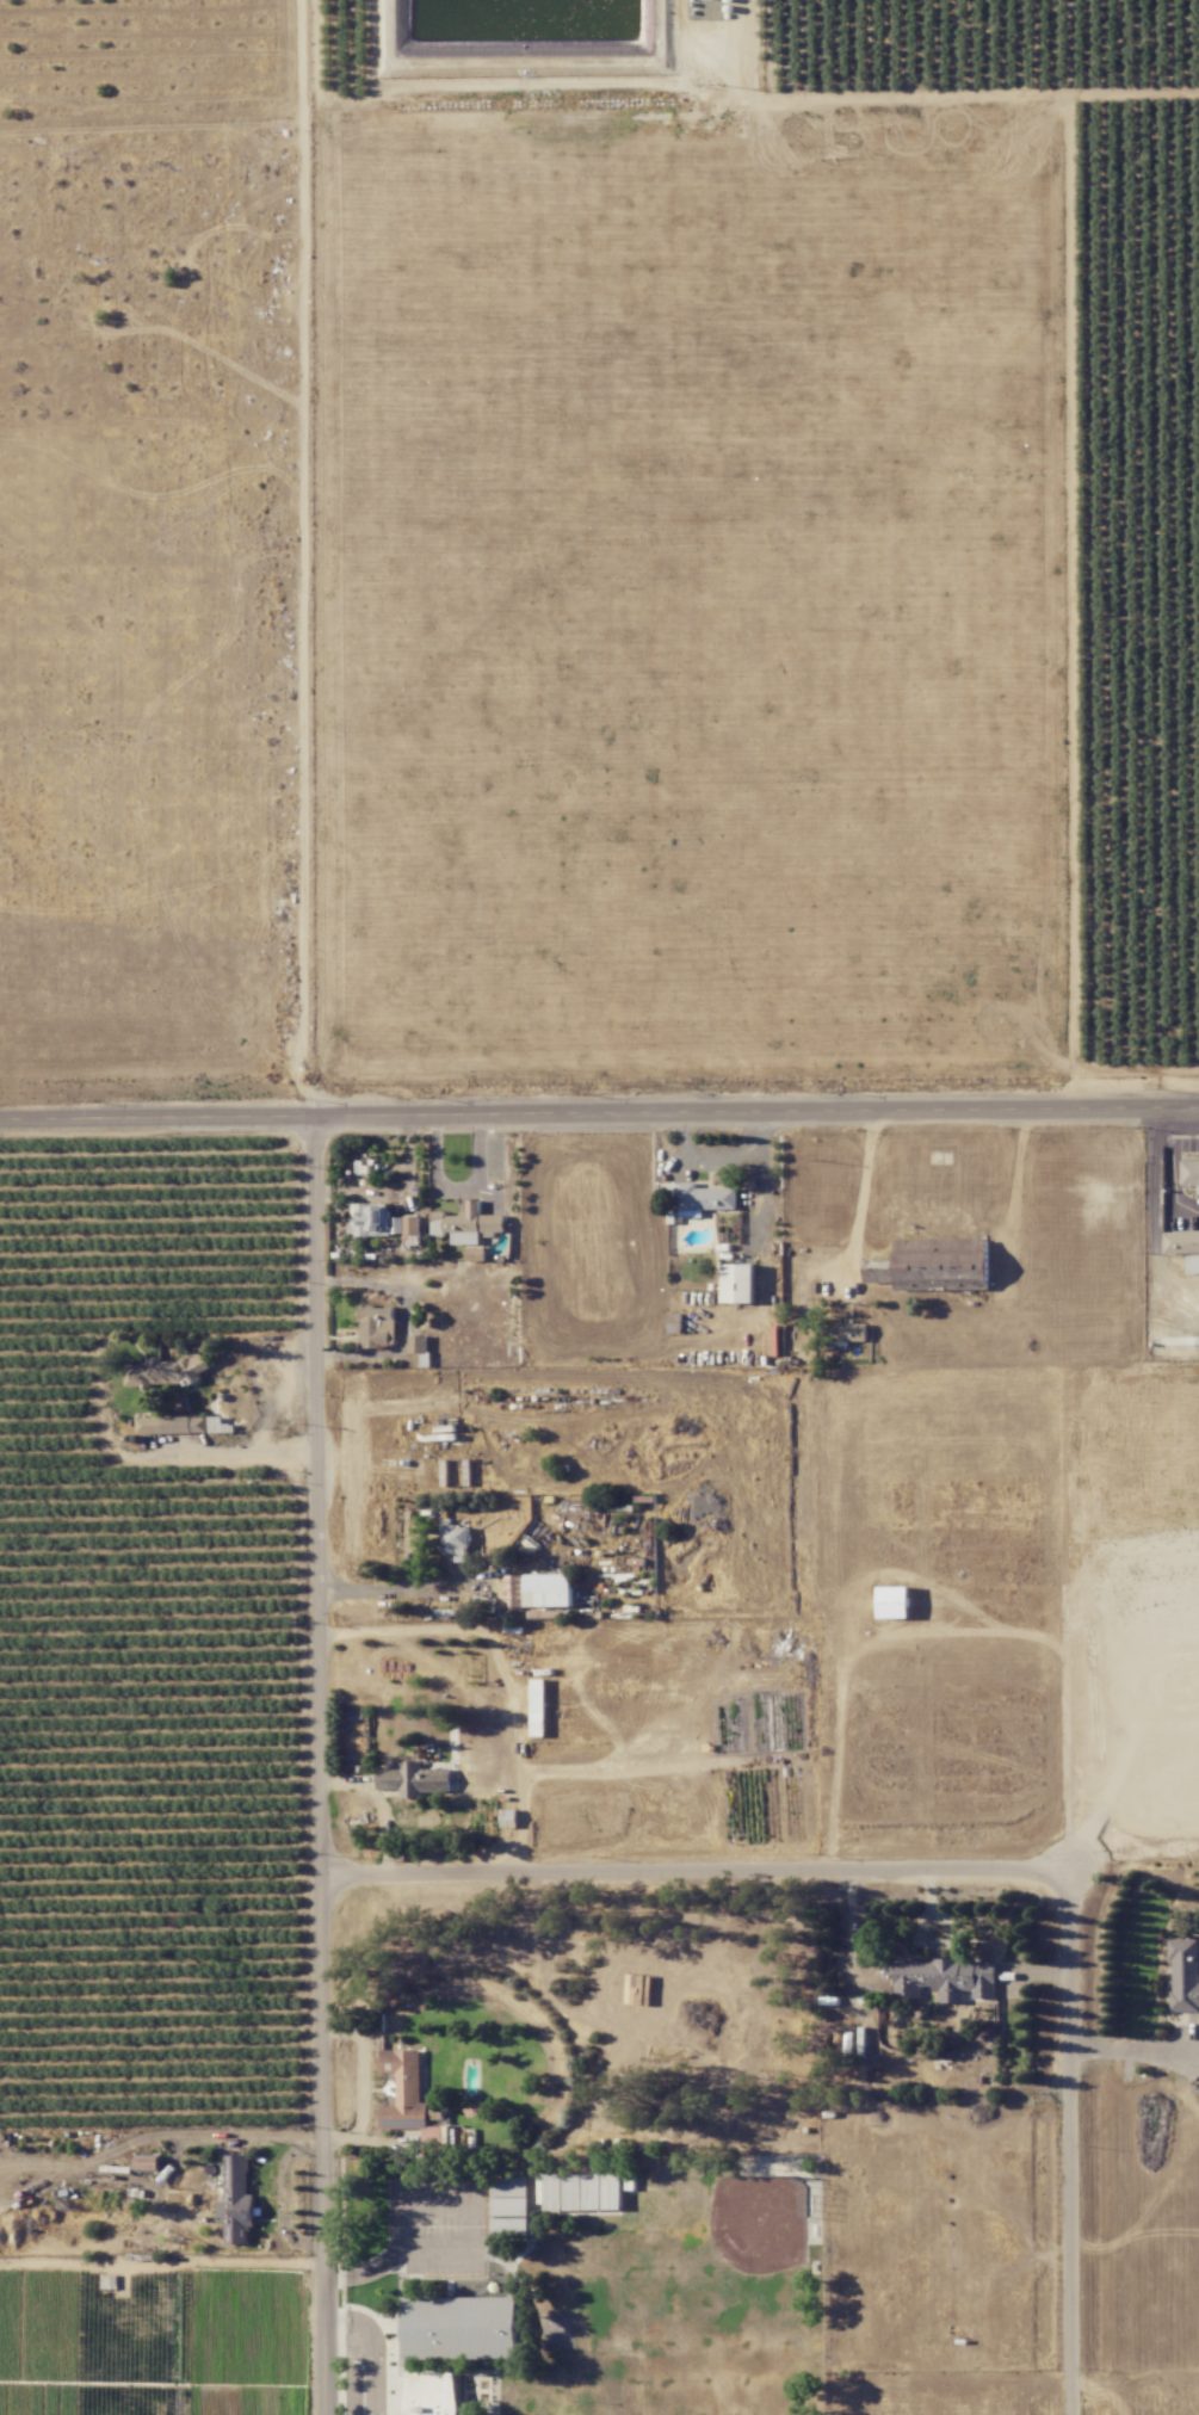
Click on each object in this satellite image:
road: (309, 558)
road: (1178, 1108)
road: (579, 1114)
road: (1157, 1143)
road: (723, 1156)
road: (1172, 1163)
road: (459, 1190)
road: (865, 1193)
building: (702, 1196)
building: (381, 1221)
building: (465, 1223)
building: (1181, 1242)
building: (933, 1265)
building: (738, 1283)
building: (377, 1326)
building: (848, 1330)
building: (418, 1344)
building: (165, 1371)
building: (172, 1425)
building: (220, 1425)
road: (246, 1449)
road: (317, 1491)
building: (455, 1539)
road: (387, 1589)
building: (538, 1589)
building: (894, 1601)
building: (414, 1779)
building: (508, 1817)
road: (699, 1863)
building: (1185, 1975)
building: (946, 1978)
road: (1138, 2049)
building: (403, 2089)
road: (1077, 2137)
road: (323, 2139)
building: (148, 2162)
building: (582, 2191)
building: (511, 2195)
building: (236, 2200)
building: (511, 2225)
building: (459, 2327)
road: (375, 2347)
building: (429, 2394)

